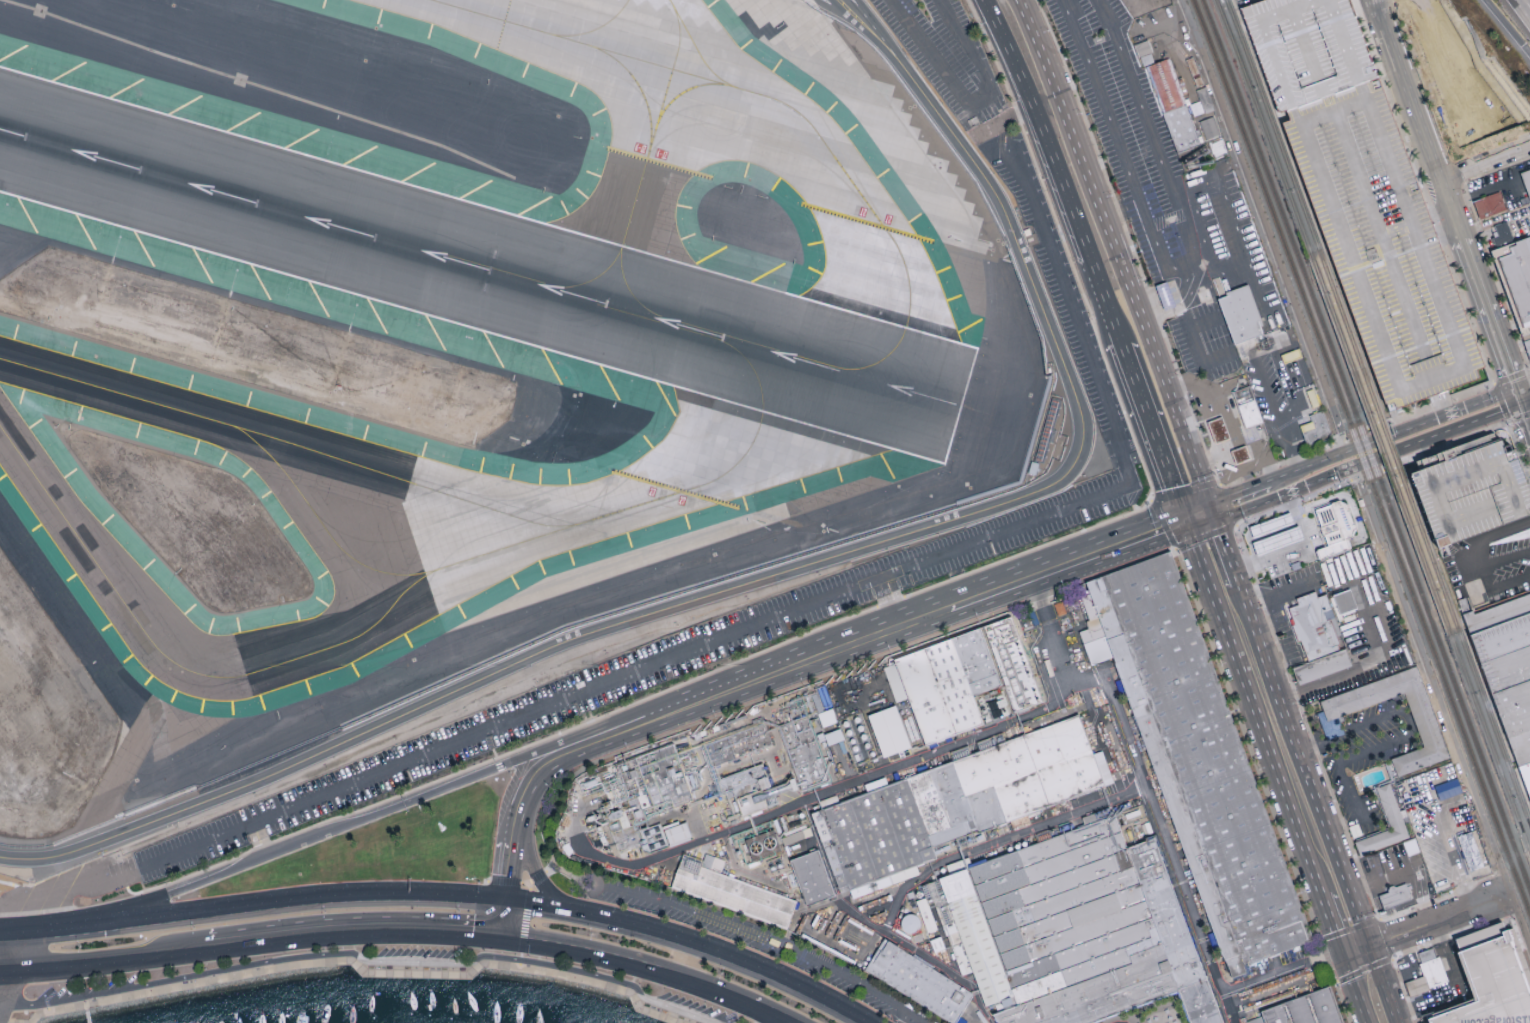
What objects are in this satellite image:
airport taxiway: (670, 4)
road: (1391, 4)
road: (855, 7)
road: (859, 7)
road: (832, 10)
road: (842, 10)
road: (989, 12)
road: (1505, 29)
airport taxiway: (596, 30)
road: (876, 32)
road: (871, 35)
building: (1311, 49)
parking lot: (1311, 49)
airport taxiway: (699, 52)
parking lot: (944, 52)
airport taxiway: (684, 73)
road: (1440, 75)
building: (1470, 76)
airport taxiway: (668, 83)
building: (1166, 85)
airport taxiway: (642, 92)
airport taxiway: (670, 102)
road: (969, 105)
road: (1419, 119)
road: (1003, 121)
railway: (1274, 125)
building: (1457, 126)
railway: (1265, 127)
building: (1209, 128)
building: (1183, 129)
road: (999, 133)
road: (1485, 165)
building: (1527, 178)
road: (1060, 183)
road: (1485, 194)
building: (1491, 205)
road: (1495, 219)
road: (1263, 225)
road: (1200, 230)
building: (1502, 233)
road: (1237, 234)
building: (1387, 246)
parking lot: (1387, 246)
airport taxiway: (617, 256)
road: (1116, 256)
airport runway: (482, 266)
road: (1177, 270)
building: (1517, 275)
airport taxiway: (634, 297)
building: (1165, 297)
road: (1170, 299)
building: (1242, 312)
road: (1493, 317)
road: (1204, 324)
airport taxiway: (903, 332)
railway: (1351, 337)
railway: (1343, 339)
road: (1194, 346)
building: (1525, 350)
airport: (469, 362)
road: (1493, 384)
road: (1525, 394)
traffic signals: (1520, 396)
road: (1525, 405)
building: (1243, 406)
road: (1273, 413)
road: (1433, 418)
road: (1510, 421)
gas station: (1230, 424)
building: (1318, 429)
building: (1220, 430)
road: (1154, 433)
road: (1439, 434)
airport taxiway: (287, 444)
railway: (1366, 446)
railway: (1391, 446)
railway: (1382, 449)
building: (1241, 456)
railway: (1362, 456)
road: (1309, 465)
road: (1238, 492)
building: (1474, 492)
parking lot: (1474, 492)
road: (1284, 495)
parking lot: (1096, 498)
road: (1347, 499)
traffic signals: (1212, 514)
road: (1199, 518)
building: (1334, 521)
traffic signals: (1187, 523)
airport taxiway: (324, 529)
building: (1274, 532)
airport taxiway: (551, 534)
road: (1488, 538)
road: (1222, 543)
road: (1296, 549)
building: (1333, 549)
road: (1333, 549)
road: (1308, 551)
railway: (1429, 551)
railway: (1420, 555)
road: (1500, 559)
airport taxiway: (95, 566)
road: (1068, 567)
road: (1235, 578)
road: (755, 580)
road: (1496, 584)
road: (892, 602)
building: (1346, 602)
building: (1315, 626)
road: (741, 628)
road: (890, 633)
road: (1053, 633)
road: (1377, 660)
building: (1507, 663)
building: (1012, 665)
building: (1323, 665)
road: (759, 682)
building: (944, 684)
road: (1253, 708)
road: (1442, 710)
road: (666, 717)
building: (1329, 727)
road: (637, 728)
railway: (1495, 728)
building: (889, 731)
road: (1413, 736)
building: (1429, 736)
road: (1311, 740)
railway: (1489, 743)
building: (739, 744)
building: (805, 754)
building: (1201, 756)
road: (551, 765)
road: (1301, 767)
building: (1526, 773)
building: (749, 789)
building: (1447, 789)
road: (1350, 792)
building: (636, 794)
building: (962, 801)
building: (1385, 821)
road: (346, 827)
building: (645, 832)
road: (514, 839)
road: (259, 840)
road: (1449, 844)
building: (1411, 846)
road: (1168, 849)
building: (1470, 852)
railway: (1529, 852)
road: (508, 872)
building: (812, 878)
road: (541, 880)
road: (518, 883)
road: (1379, 884)
building: (731, 892)
building: (1400, 897)
road: (2, 902)
traffic signals: (507, 902)
road: (255, 906)
road: (551, 910)
building: (926, 914)
traffic signals: (101, 915)
road: (504, 918)
road: (5, 919)
road: (525, 919)
road: (602, 919)
road: (1330, 921)
road: (1439, 922)
road: (355, 926)
traffic signals: (104, 927)
building: (1074, 930)
traffic signals: (502, 934)
road: (761, 935)
road: (2, 937)
parking lot: (761, 944)
traffic signals: (1369, 948)
parking lot: (418, 951)
road: (6, 952)
road: (1356, 952)
road: (1341, 953)
road: (108, 957)
traffic signals: (1343, 957)
road: (520, 960)
road: (629, 960)
road: (741, 960)
road: (414, 961)
road: (296, 962)
road: (558, 964)
road: (3, 967)
road: (1280, 971)
building: (1428, 974)
road: (169, 979)
building: (1494, 982)
building: (920, 983)
parking lot: (88, 984)
road: (1382, 985)
road: (1355, 990)
road: (636, 1002)
parking lot: (699, 1006)
road: (86, 1007)
road: (676, 1009)
building: (1308, 1010)
road: (774, 1012)
road: (88, 1017)
road: (906, 1017)
road: (917, 1017)
road: (787, 1022)

